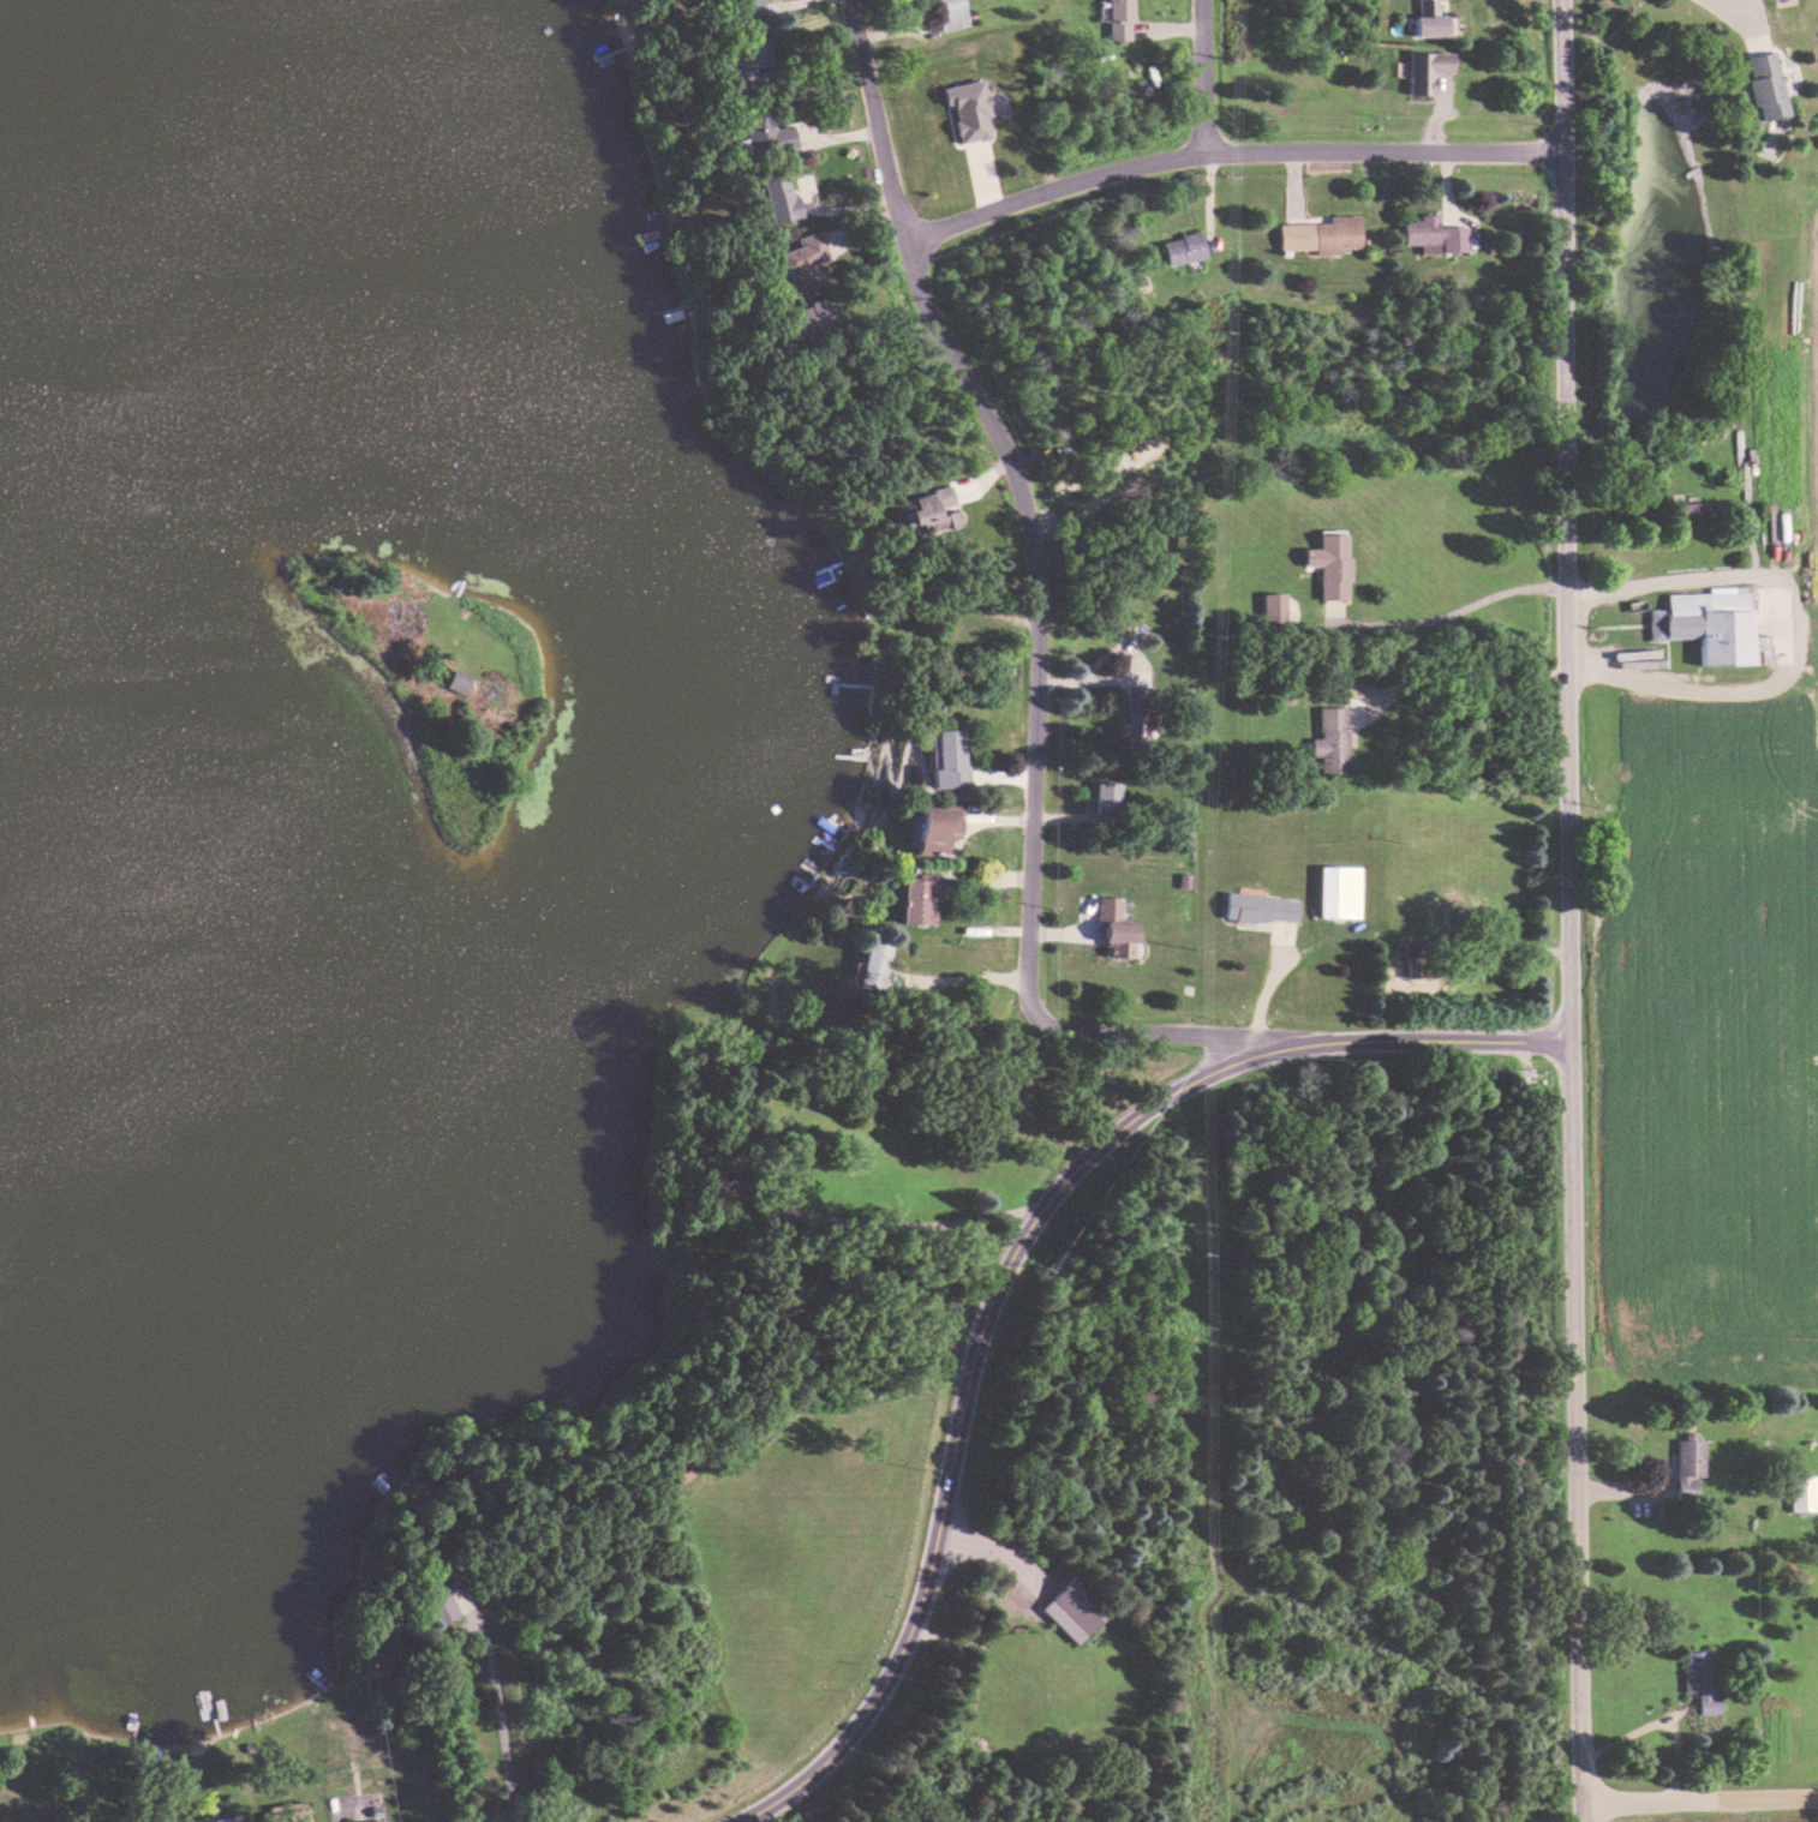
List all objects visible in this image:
building: (748, 10)
road: (1729, 11)
building: (949, 13)
building: (1431, 18)
building: (1119, 19)
building: (748, 61)
building: (1427, 71)
road: (1203, 72)
building: (1765, 86)
building: (766, 132)
road: (1222, 145)
building: (777, 196)
building: (1320, 235)
building: (1434, 235)
building: (1182, 250)
building: (803, 264)
building: (805, 320)
building: (1702, 509)
building: (929, 510)
building: (1330, 565)
building: (1274, 611)
road: (1443, 617)
building: (1709, 624)
road: (1033, 634)
road: (1795, 634)
road: (1463, 678)
building: (456, 681)
building: (1136, 714)
building: (1332, 741)
building: (946, 759)
building: (1106, 805)
building: (935, 829)
building: (1339, 893)
building: (917, 899)
building: (1261, 909)
road: (1563, 911)
building: (1434, 929)
building: (1116, 933)
road: (1280, 937)
building: (877, 970)
road: (1264, 989)
road: (885, 1025)
road: (901, 1222)
road: (1003, 1260)
building: (1687, 1467)
building: (1801, 1496)
road: (993, 1547)
building: (438, 1593)
building: (1075, 1611)
building: (1699, 1680)
road: (498, 1706)
road: (1697, 1800)
building: (292, 1816)
building: (220, 1818)
building: (383, 1821)

